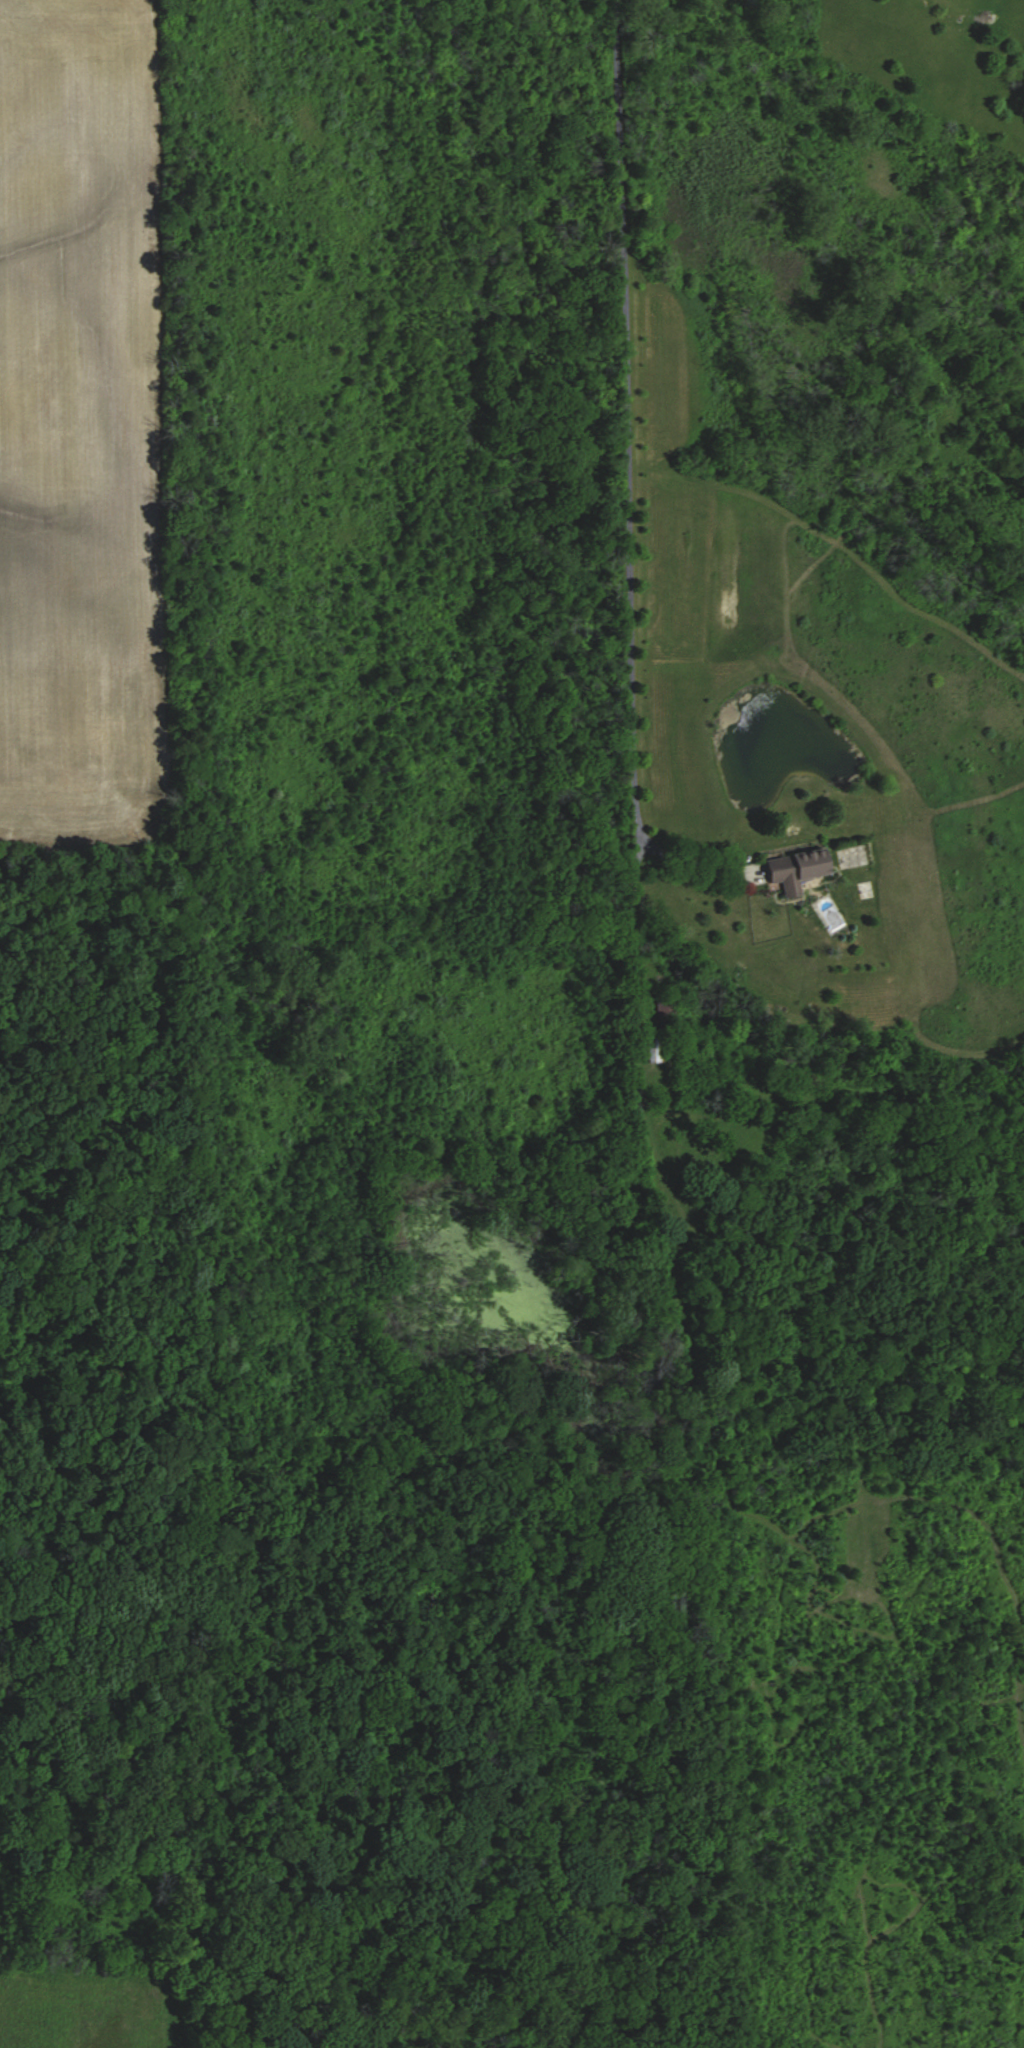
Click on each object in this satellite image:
road: (628, 471)
building: (798, 869)
building: (667, 1010)
building: (652, 1048)

